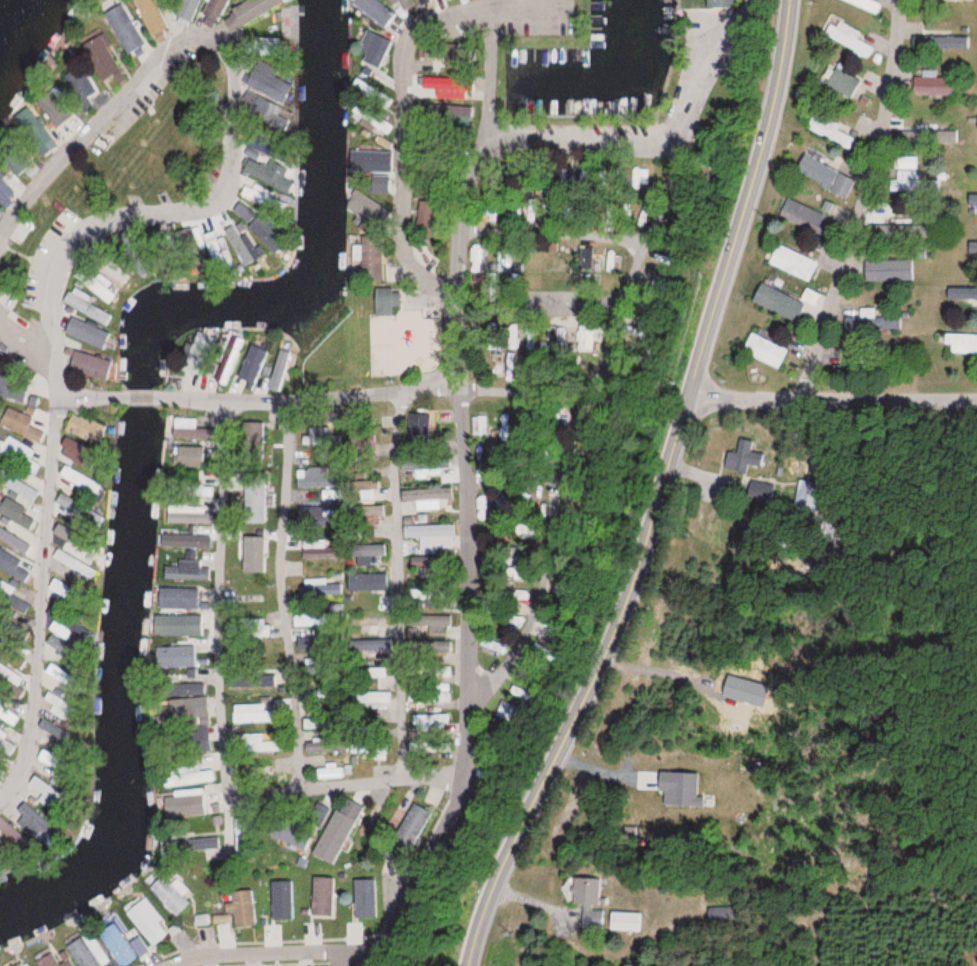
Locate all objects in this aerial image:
building: (945, 0)
building: (866, 5)
building: (185, 9)
building: (375, 11)
building: (212, 12)
building: (151, 19)
building: (127, 32)
building: (847, 38)
building: (951, 42)
building: (373, 51)
building: (100, 56)
building: (80, 82)
building: (843, 83)
building: (430, 85)
building: (932, 86)
road: (405, 97)
building: (381, 99)
building: (32, 127)
building: (828, 129)
road: (87, 137)
road: (575, 138)
building: (825, 176)
building: (915, 182)
building: (3, 191)
road: (878, 198)
road: (171, 211)
building: (803, 216)
building: (903, 226)
building: (214, 247)
building: (972, 250)
building: (475, 257)
building: (792, 263)
road: (540, 282)
building: (970, 293)
building: (384, 301)
building: (779, 303)
building: (86, 330)
building: (961, 342)
road: (606, 350)
building: (763, 350)
road: (25, 355)
building: (251, 364)
building: (87, 365)
building: (224, 367)
building: (279, 370)
road: (92, 389)
road: (377, 395)
road: (138, 397)
road: (831, 399)
building: (184, 423)
building: (21, 424)
building: (479, 425)
building: (419, 427)
road: (526, 439)
building: (75, 446)
building: (191, 456)
building: (742, 458)
building: (80, 480)
building: (19, 486)
building: (367, 489)
road: (660, 492)
building: (808, 495)
building: (429, 498)
road: (472, 501)
building: (375, 511)
building: (14, 512)
building: (444, 533)
building: (14, 541)
building: (192, 541)
building: (366, 553)
building: (75, 563)
building: (183, 570)
building: (379, 578)
building: (60, 586)
road: (393, 586)
building: (5, 587)
road: (44, 592)
road: (300, 592)
road: (225, 594)
building: (181, 597)
building: (366, 621)
building: (435, 623)
building: (188, 624)
building: (507, 626)
building: (255, 628)
building: (376, 644)
building: (437, 646)
building: (14, 658)
building: (178, 659)
building: (56, 671)
building: (440, 671)
building: (371, 672)
building: (9, 675)
building: (194, 688)
building: (255, 688)
building: (441, 696)
building: (371, 699)
building: (191, 713)
building: (250, 713)
building: (8, 715)
building: (430, 722)
building: (203, 736)
building: (255, 743)
building: (436, 747)
building: (377, 750)
building: (331, 771)
building: (189, 775)
road: (358, 780)
building: (338, 829)
building: (585, 891)
building: (167, 892)
building: (320, 896)
building: (240, 909)
building: (146, 921)
building: (624, 921)
building: (117, 943)
road: (267, 953)
building: (51, 961)
building: (21, 964)

